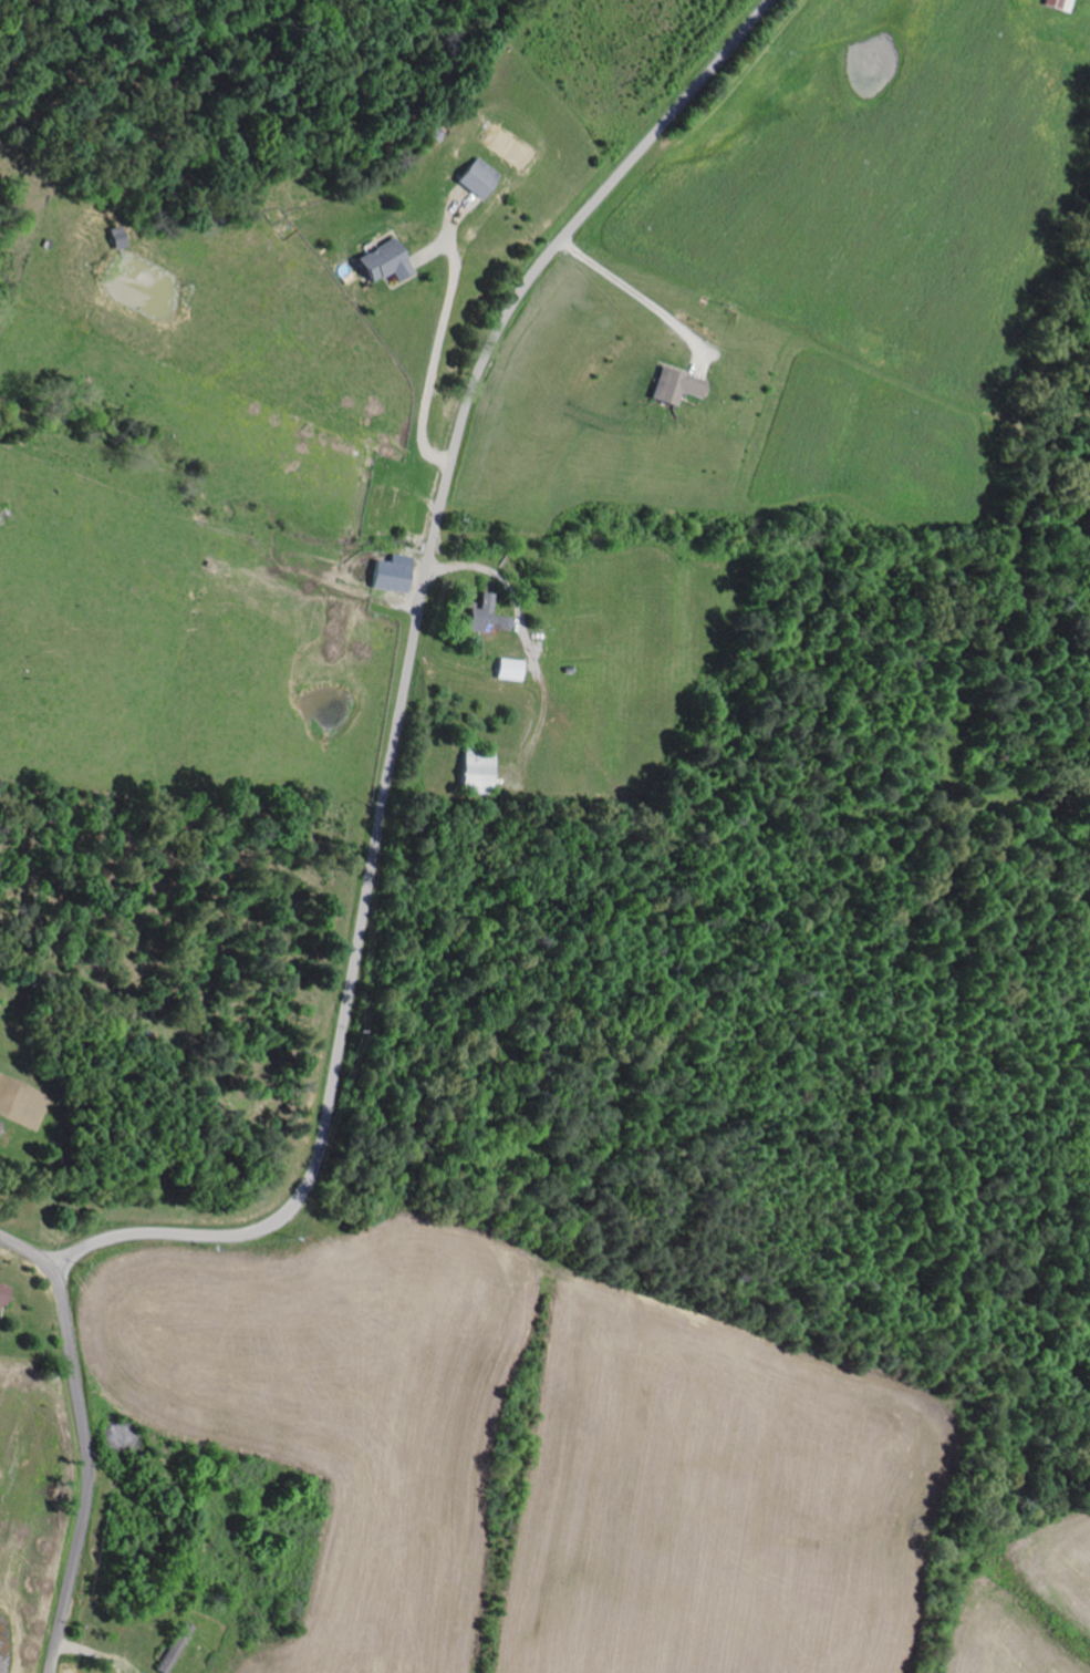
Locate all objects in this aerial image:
building: (1060, 4)
building: (473, 177)
building: (381, 262)
road: (637, 292)
road: (443, 357)
building: (672, 386)
building: (390, 574)
building: (486, 617)
road: (528, 631)
building: (507, 670)
road: (402, 685)
building: (470, 771)
building: (3, 1291)
road: (85, 1440)
road: (100, 1656)

